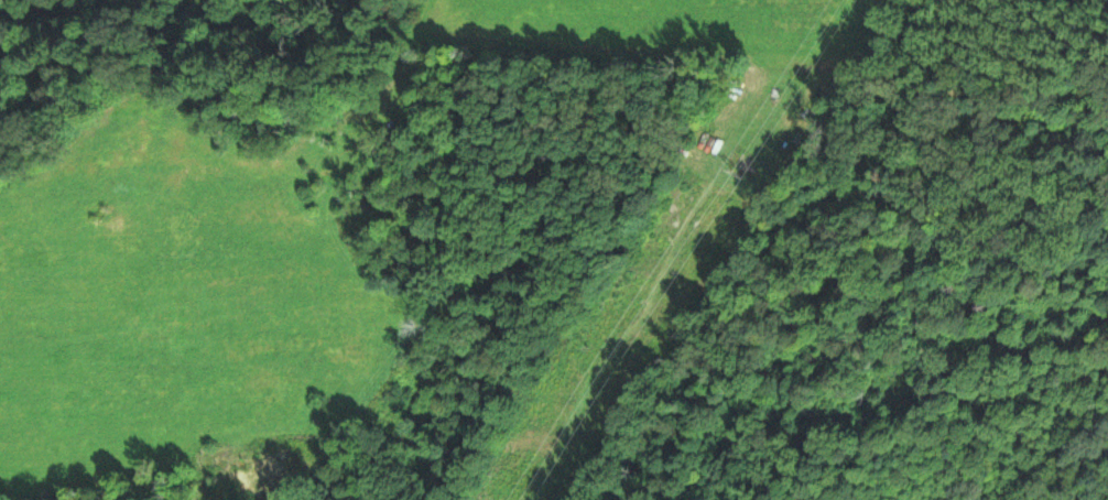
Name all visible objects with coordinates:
power tower: (736, 171)

